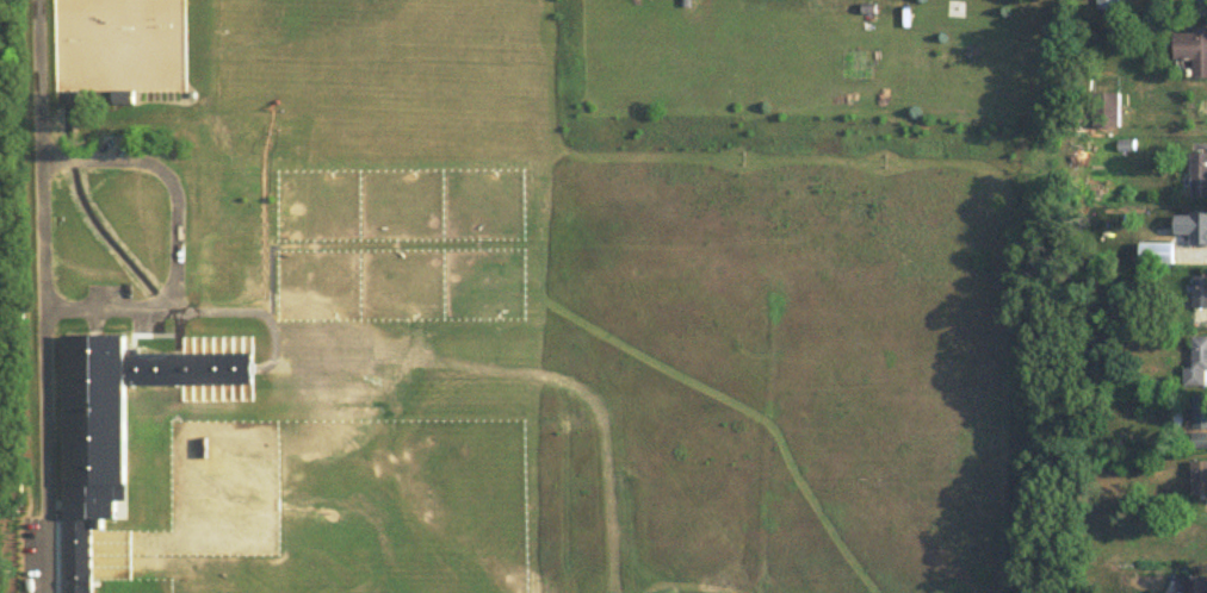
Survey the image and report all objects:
building: (1107, 2)
building: (1193, 46)
building: (1110, 102)
building: (1199, 171)
building: (1191, 223)
building: (1157, 250)
building: (1200, 288)
road: (41, 296)
building: (1197, 361)
building: (1200, 410)
building: (1200, 437)
building: (92, 444)
building: (1199, 474)
building: (1195, 582)

